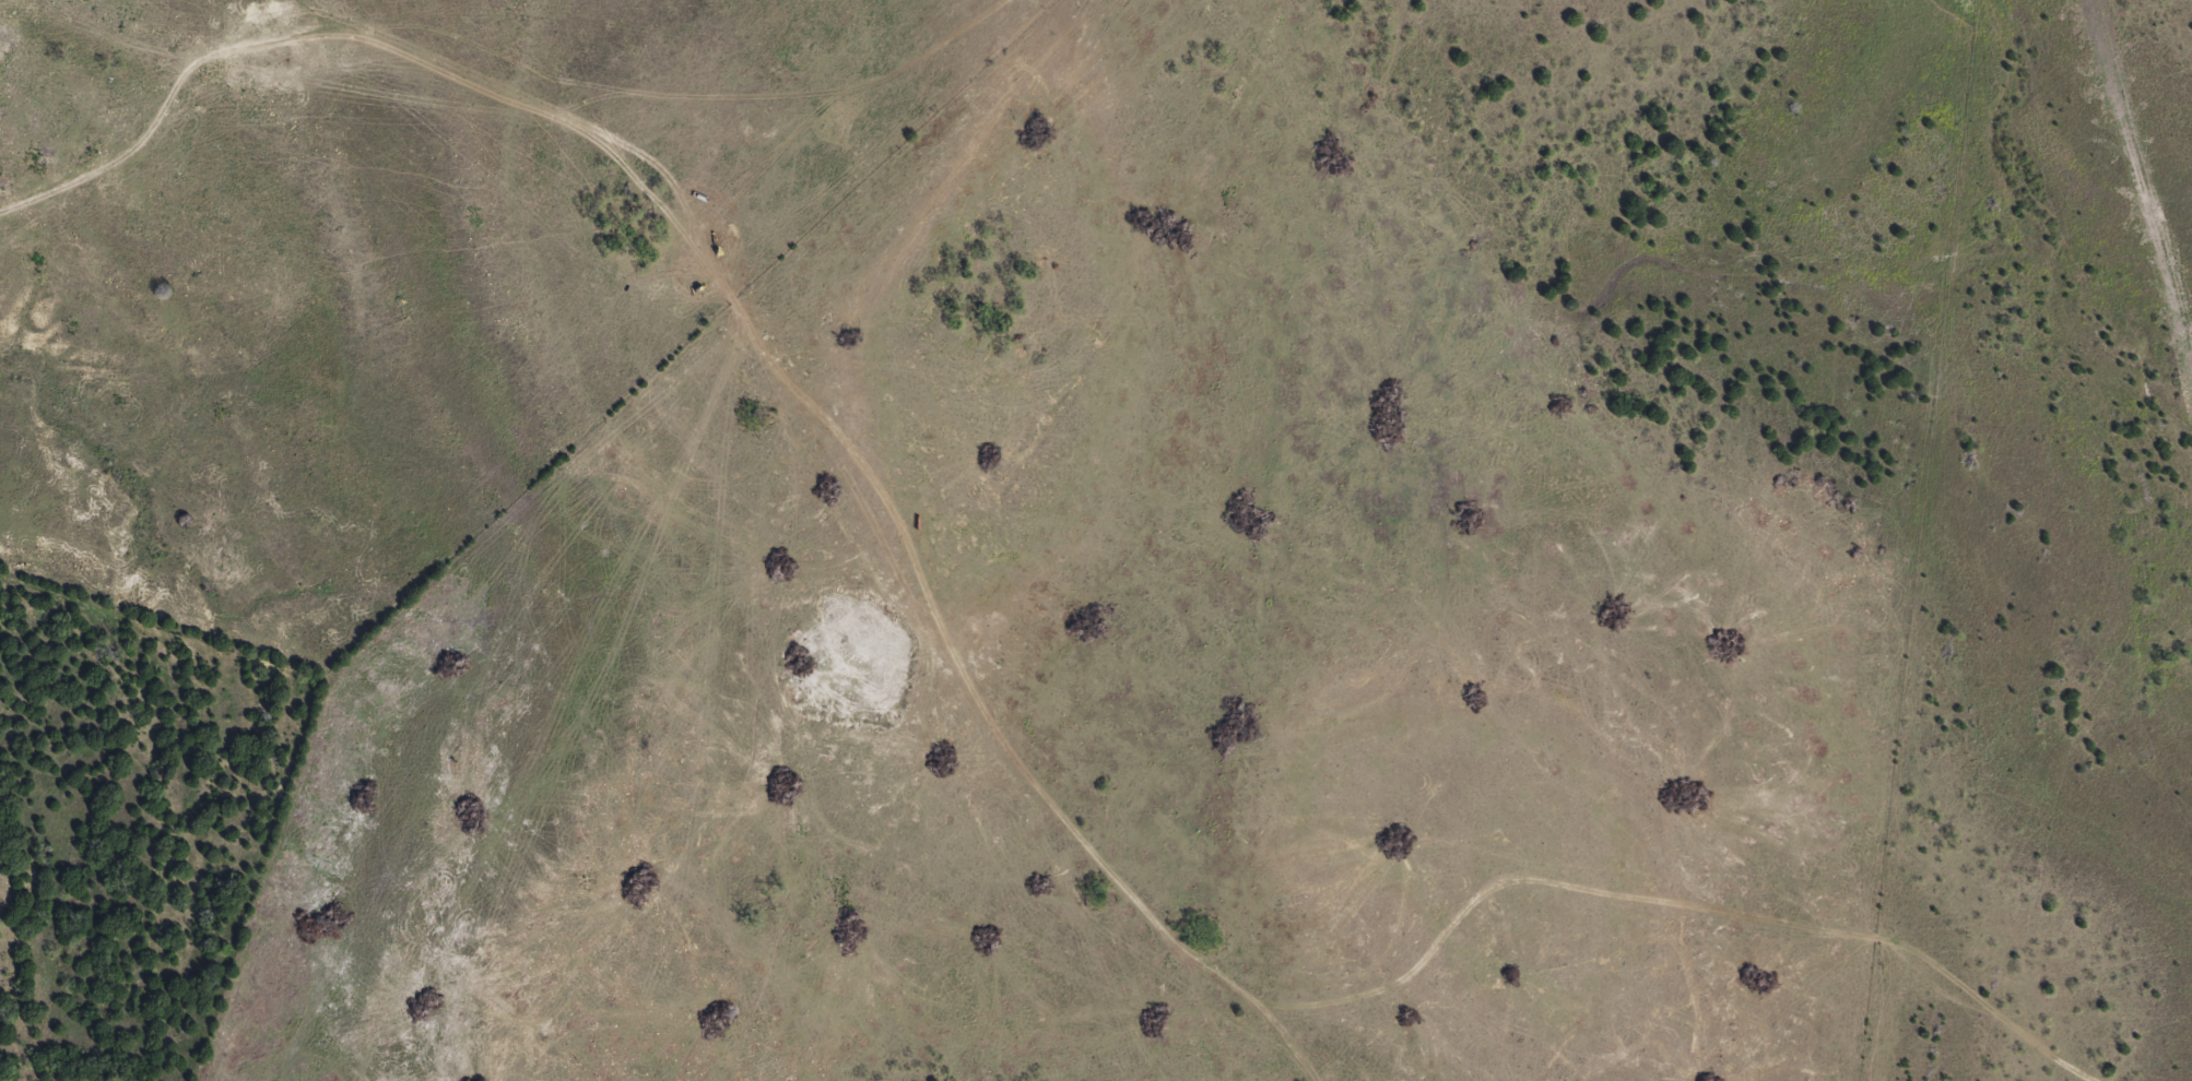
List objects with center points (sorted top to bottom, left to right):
road: (200, 175)

